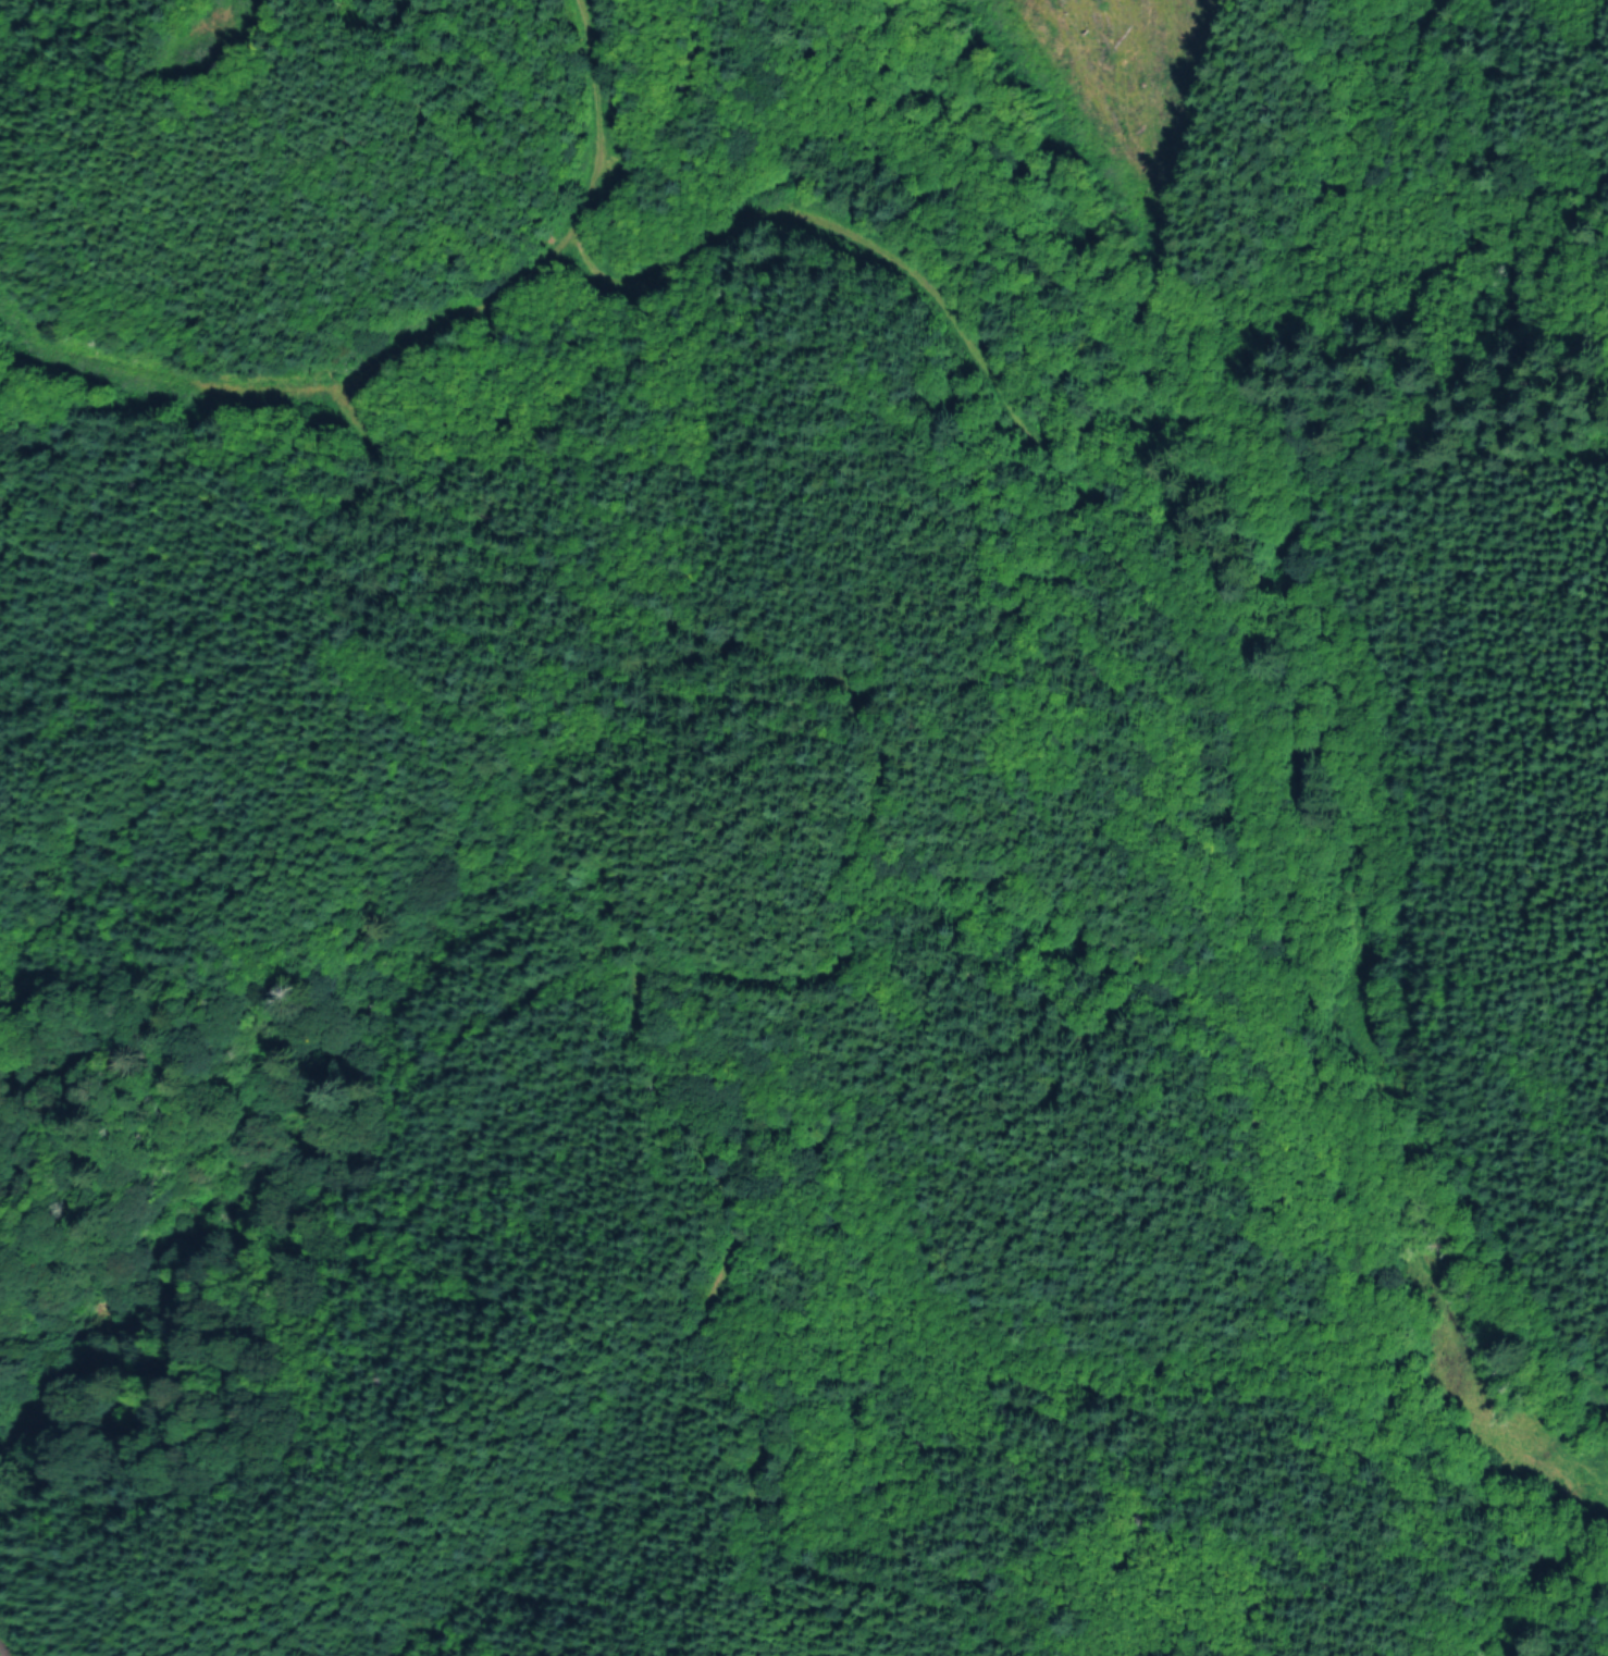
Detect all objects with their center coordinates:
road: (678, 214)
road: (407, 326)
railway: (4, 1648)

